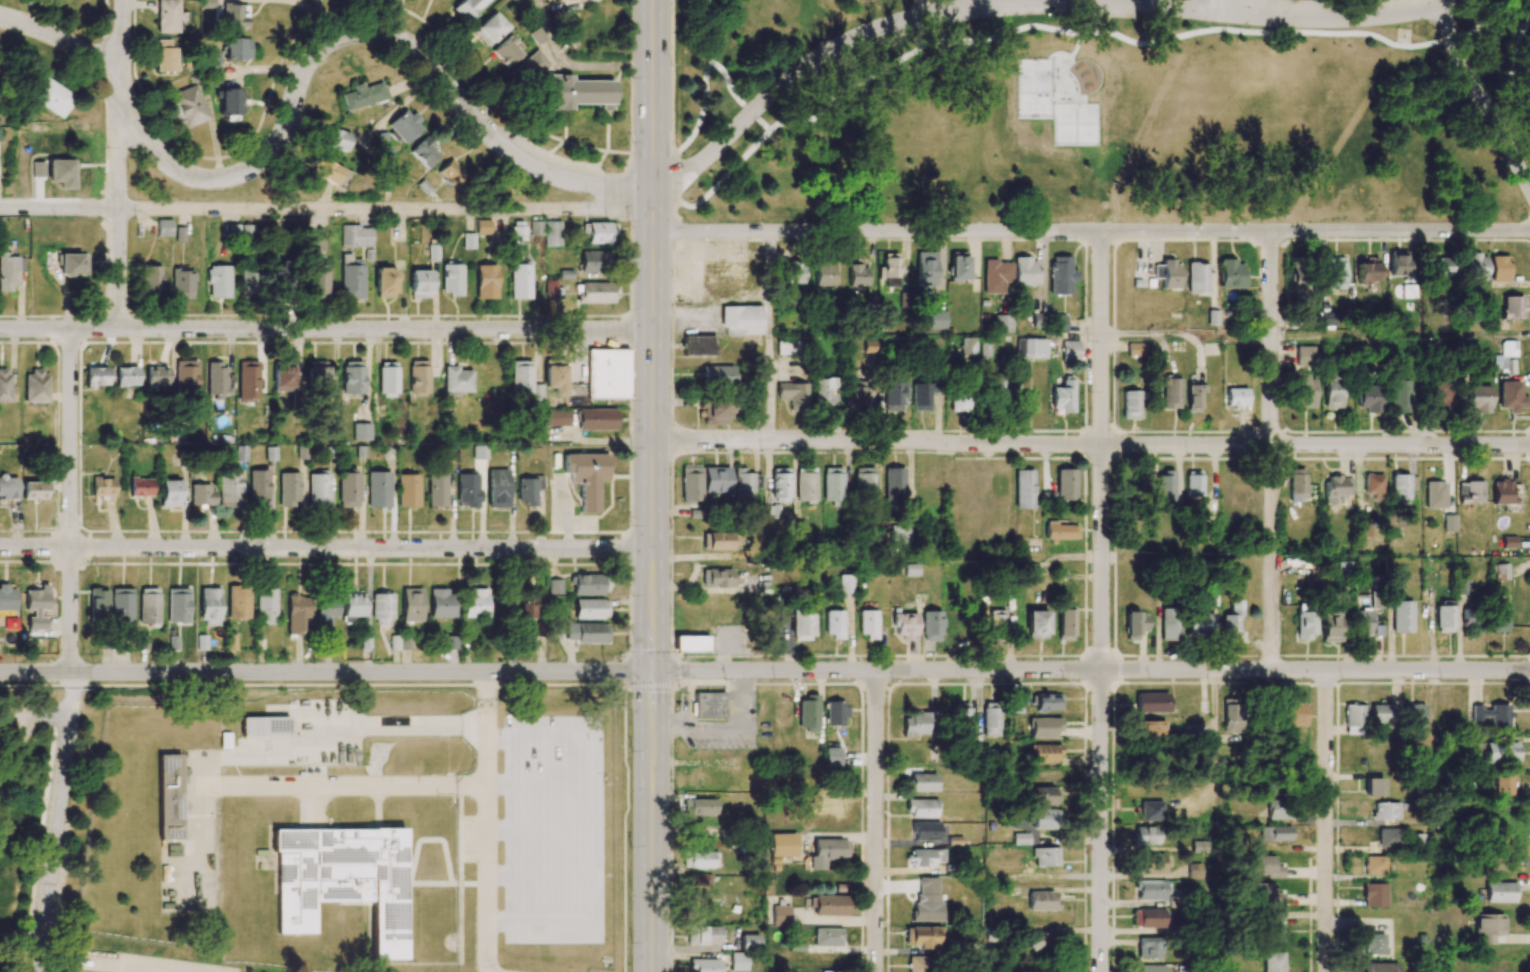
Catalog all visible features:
road: (1014, 1)
park: (1353, 1)
road: (1124, 2)
road: (1452, 4)
road: (1210, 6)
road: (921, 7)
building: (468, 8)
parking lot: (1023, 10)
parking lot: (1292, 10)
building: (234, 15)
building: (167, 16)
street lamp: (395, 22)
building: (489, 29)
street lamp: (1434, 30)
road: (1116, 34)
street lamp: (822, 42)
road: (1075, 47)
building: (237, 49)
building: (506, 52)
building: (165, 56)
road: (574, 64)
street lamp: (671, 64)
building: (215, 66)
building: (531, 66)
road: (300, 77)
road: (704, 77)
building: (574, 92)
building: (364, 96)
building: (54, 97)
road: (737, 97)
road: (1482, 100)
road: (651, 102)
building: (229, 103)
park: (1053, 105)
building: (187, 107)
park: (1101, 111)
road: (672, 117)
building: (404, 126)
building: (334, 139)
street lamp: (632, 141)
building: (425, 152)
street lamp: (499, 161)
road: (118, 164)
building: (61, 172)
building: (331, 173)
building: (450, 173)
street lamp: (1516, 185)
street lamp: (587, 195)
road: (325, 209)
street lamp: (678, 210)
street lamp: (1277, 217)
street lamp: (980, 220)
street lamp: (1091, 220)
street lamp: (1388, 220)
street lamp: (628, 221)
street lamp: (1183, 221)
street lamp: (1512, 221)
street lamp: (762, 222)
street lamp: (871, 222)
building: (163, 227)
building: (483, 227)
building: (536, 228)
road: (1085, 230)
building: (518, 231)
building: (247, 232)
building: (597, 232)
building: (552, 233)
building: (356, 236)
building: (469, 240)
building: (316, 244)
building: (591, 261)
building: (1398, 263)
building: (72, 264)
building: (958, 265)
building: (1440, 267)
building: (1474, 267)
building: (925, 269)
building: (1499, 269)
building: (10, 270)
building: (889, 270)
building: (1368, 270)
building: (1025, 271)
building: (724, 272)
building: (791, 272)
building: (1167, 273)
building: (1334, 273)
building: (824, 274)
building: (1230, 274)
building: (858, 275)
building: (1061, 275)
building: (1298, 275)
building: (996, 276)
building: (283, 277)
building: (1196, 278)
building: (452, 279)
building: (151, 280)
building: (352, 280)
building: (219, 281)
building: (319, 281)
building: (486, 281)
building: (520, 281)
building: (249, 283)
building: (385, 283)
building: (182, 284)
building: (420, 284)
building: (550, 287)
building: (595, 292)
street lamp: (629, 305)
building: (1512, 307)
building: (936, 319)
building: (1326, 319)
building: (741, 320)
road: (769, 321)
building: (1003, 323)
building: (1060, 323)
road: (326, 329)
road: (1185, 333)
road: (1399, 333)
street lamp: (1091, 338)
building: (698, 345)
building: (968, 345)
building: (789, 346)
building: (1030, 348)
building: (1509, 348)
building: (1136, 350)
building: (1070, 351)
building: (1304, 356)
building: (607, 374)
building: (717, 374)
building: (317, 375)
building: (95, 376)
building: (126, 376)
building: (156, 376)
building: (186, 376)
building: (284, 376)
building: (554, 376)
building: (352, 377)
building: (418, 377)
building: (388, 379)
building: (458, 379)
building: (216, 380)
building: (248, 380)
building: (524, 382)
building: (4, 385)
building: (36, 386)
building: (999, 389)
building: (824, 392)
building: (1169, 392)
building: (1304, 392)
building: (1332, 392)
building: (855, 393)
building: (1441, 393)
building: (793, 395)
building: (893, 396)
building: (924, 396)
building: (1400, 396)
building: (1511, 396)
building: (1063, 397)
building: (1192, 397)
building: (1234, 397)
building: (1479, 398)
building: (1369, 399)
building: (960, 400)
building: (1130, 404)
building: (715, 411)
building: (557, 418)
building: (596, 419)
street lamp: (675, 424)
building: (361, 431)
road: (652, 438)
road: (1090, 444)
street lamp: (720, 449)
road: (1270, 449)
building: (479, 452)
street lamp: (979, 453)
street lamp: (1188, 454)
street lamp: (1088, 463)
building: (587, 477)
building: (715, 480)
building: (864, 482)
building: (805, 484)
building: (894, 484)
building: (1192, 484)
building: (690, 485)
building: (745, 485)
building: (779, 485)
building: (1065, 485)
building: (1297, 485)
building: (1373, 485)
building: (102, 486)
building: (833, 486)
building: (1163, 486)
building: (8, 487)
building: (140, 487)
building: (258, 488)
building: (289, 488)
building: (436, 488)
building: (497, 488)
building: (1337, 488)
building: (1399, 488)
building: (349, 489)
building: (378, 489)
building: (1023, 489)
building: (34, 490)
building: (229, 490)
building: (319, 490)
building: (408, 490)
building: (468, 490)
building: (528, 490)
building: (1470, 492)
building: (1502, 492)
building: (169, 493)
building: (201, 494)
building: (1435, 495)
building: (1048, 496)
road: (70, 500)
building: (770, 512)
building: (1449, 523)
street lamp: (632, 524)
building: (1059, 532)
building: (721, 541)
building: (1508, 542)
road: (326, 547)
building: (1344, 569)
building: (1501, 571)
building: (718, 578)
building: (589, 584)
building: (847, 584)
building: (554, 587)
building: (7, 598)
building: (1375, 599)
road: (1100, 600)
building: (238, 602)
building: (441, 603)
building: (475, 603)
building: (98, 604)
building: (412, 604)
building: (121, 605)
building: (178, 605)
building: (266, 605)
building: (149, 606)
building: (210, 606)
building: (528, 606)
building: (35, 608)
building: (354, 608)
building: (382, 609)
building: (590, 609)
building: (326, 611)
building: (297, 613)
building: (1445, 616)
building: (1402, 617)
building: (1499, 617)
building: (1470, 618)
building: (1232, 620)
building: (1305, 622)
building: (1363, 622)
building: (1000, 623)
building: (834, 624)
building: (868, 624)
building: (1036, 624)
building: (1170, 624)
building: (1199, 624)
building: (905, 625)
building: (931, 625)
building: (1064, 625)
building: (1134, 625)
building: (801, 626)
building: (1330, 626)
building: (538, 631)
building: (586, 632)
building: (450, 642)
building: (691, 643)
road: (677, 655)
road: (1090, 670)
road: (325, 671)
traffic signals: (651, 671)
building: (1046, 702)
building: (1151, 702)
building: (708, 704)
building: (1017, 705)
building: (808, 713)
building: (1291, 713)
building: (835, 714)
building: (1380, 714)
building: (962, 715)
building: (1231, 715)
building: (1414, 715)
building: (1493, 715)
building: (991, 719)
building: (1354, 719)
building: (918, 723)
building: (264, 726)
building: (1043, 727)
road: (23, 729)
building: (1148, 729)
building: (1500, 752)
building: (1043, 753)
building: (833, 756)
building: (1044, 776)
building: (923, 782)
building: (1502, 785)
building: (1374, 787)
building: (1045, 796)
building: (169, 797)
building: (829, 805)
building: (699, 806)
building: (922, 808)
building: (1278, 809)
building: (1150, 811)
building: (1386, 811)
building: (1045, 818)
road: (51, 821)
road: (651, 821)
road: (874, 821)
road: (1214, 821)
road: (1324, 821)
road: (486, 822)
building: (924, 831)
building: (1275, 833)
building: (1146, 835)
building: (1390, 837)
building: (1020, 838)
road: (41, 844)
building: (1198, 846)
building: (781, 848)
building: (173, 850)
building: (827, 852)
building: (926, 857)
building: (1045, 857)
building: (699, 859)
building: (1150, 863)
building: (1374, 865)
building: (1265, 867)
building: (344, 880)
building: (698, 881)
building: (1150, 889)
building: (1500, 892)
building: (1263, 894)
building: (1374, 895)
building: (1041, 901)
building: (829, 905)
building: (780, 915)
building: (1149, 918)
building: (1275, 926)
building: (1487, 928)
building: (703, 935)
building: (827, 937)
building: (921, 937)
building: (1041, 941)
building: (749, 942)
building: (1375, 944)
building: (1149, 948)
road: (155, 961)
building: (738, 961)
building: (1273, 962)
building: (917, 964)
building: (704, 965)
road: (140, 966)
building: (1378, 967)
building: (1148, 968)
road: (189, 969)

